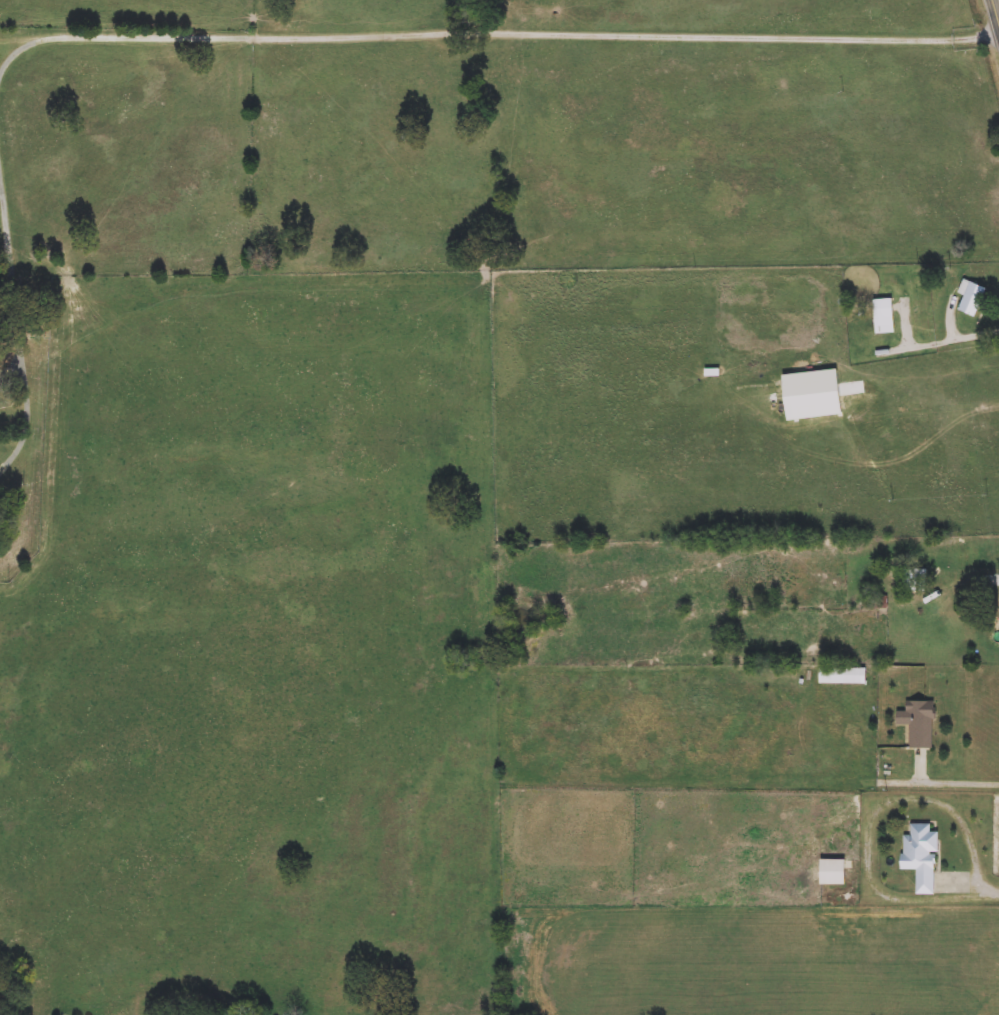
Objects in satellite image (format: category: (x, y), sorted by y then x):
road: (994, 14)
road: (485, 32)
road: (21, 37)
building: (972, 298)
road: (21, 299)
building: (865, 319)
road: (975, 331)
building: (914, 580)
road: (976, 580)
building: (876, 602)
building: (843, 675)
building: (921, 725)
road: (954, 782)
road: (873, 820)
building: (921, 856)
building: (833, 872)
road: (990, 896)

